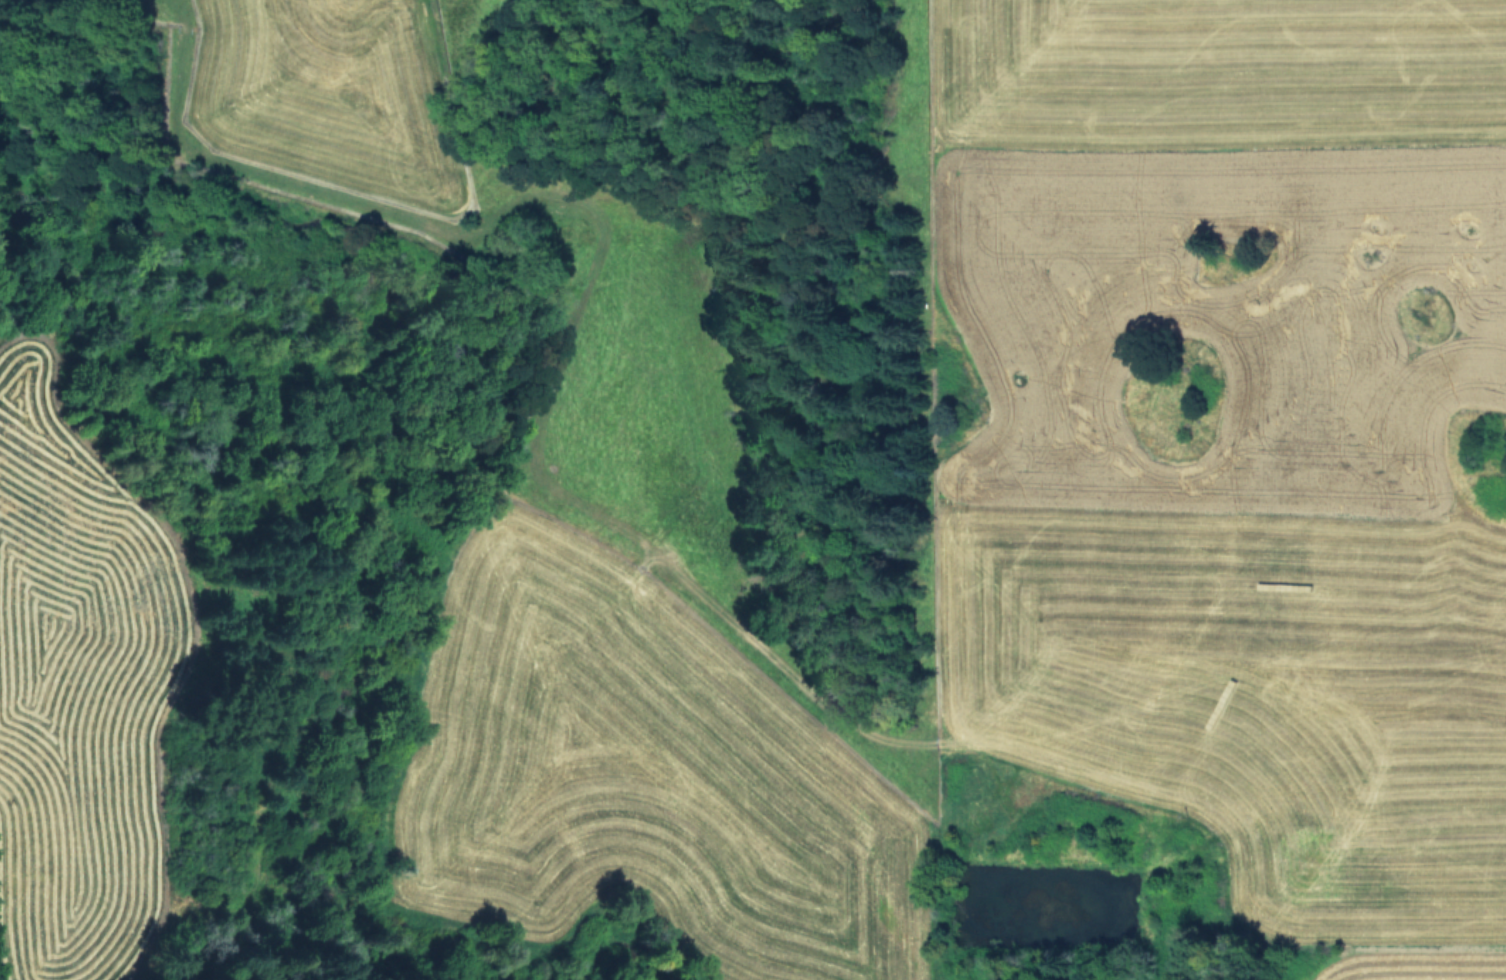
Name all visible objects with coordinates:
crop: (295, 74)
crop: (1237, 427)
river: (378, 613)

